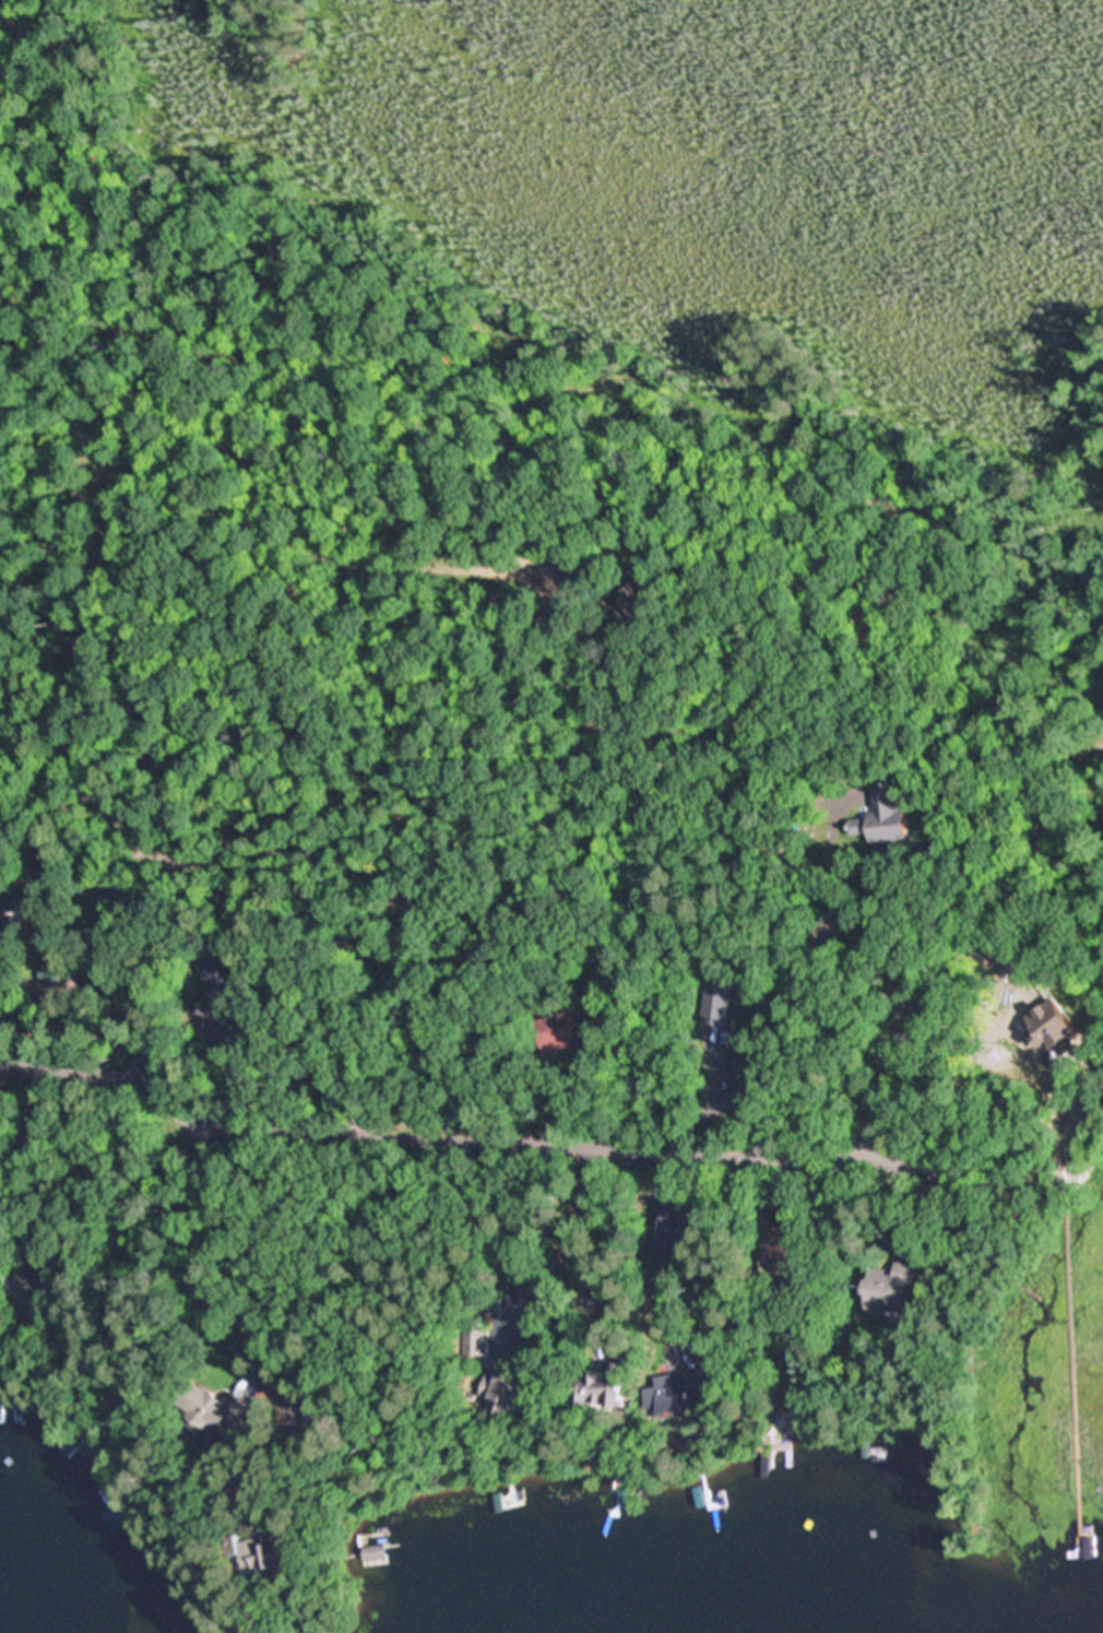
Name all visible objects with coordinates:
building: (574, 567)
building: (641, 603)
building: (886, 817)
building: (804, 845)
building: (808, 903)
building: (827, 934)
road: (982, 952)
building: (603, 959)
road: (131, 960)
building: (56, 966)
building: (220, 991)
building: (721, 1001)
building: (597, 1023)
building: (558, 1033)
building: (241, 1036)
building: (748, 1076)
road: (471, 1140)
building: (38, 1144)
building: (791, 1257)
building: (892, 1289)
building: (29, 1294)
building: (618, 1303)
building: (476, 1341)
building: (605, 1387)
building: (510, 1394)
building: (217, 1410)
building: (321, 1418)
building: (795, 1429)
building: (261, 1553)
building: (375, 1554)

